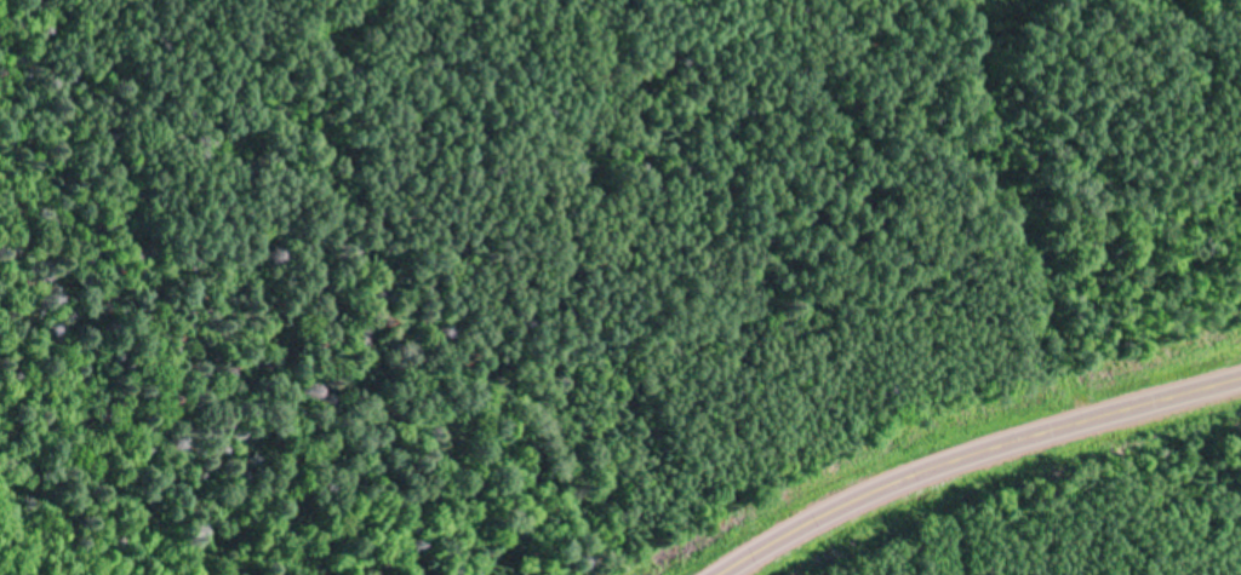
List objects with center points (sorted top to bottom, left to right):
road: (1138, 8)
road: (1017, 213)
road: (972, 458)

